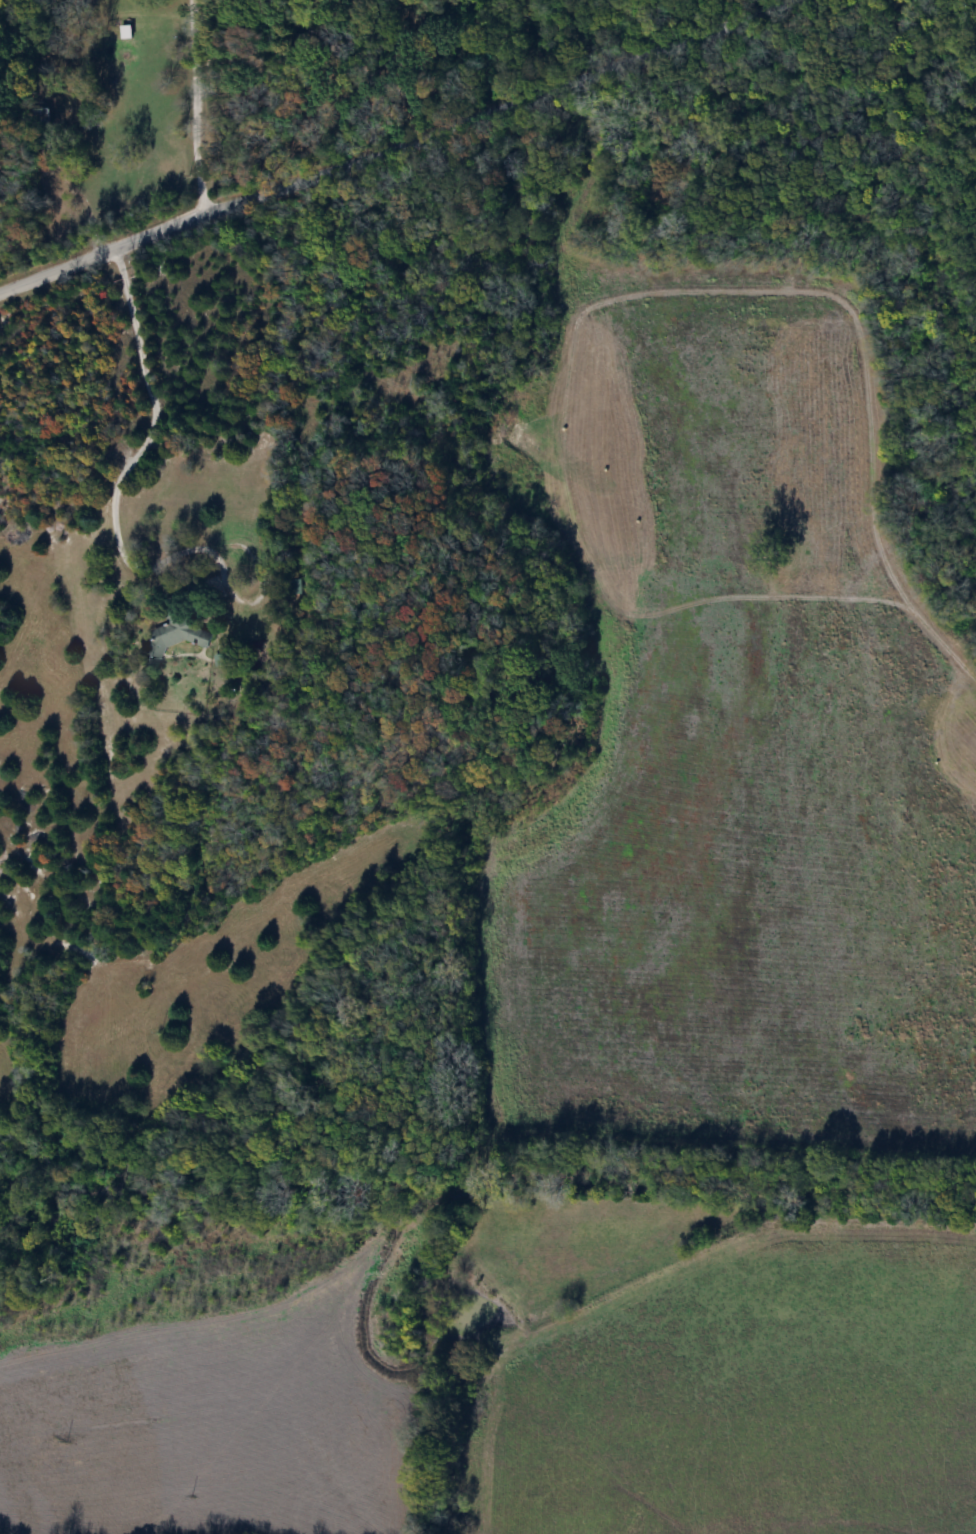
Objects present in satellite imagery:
road: (199, 105)
road: (393, 143)
road: (78, 190)
road: (150, 426)
building: (176, 621)

